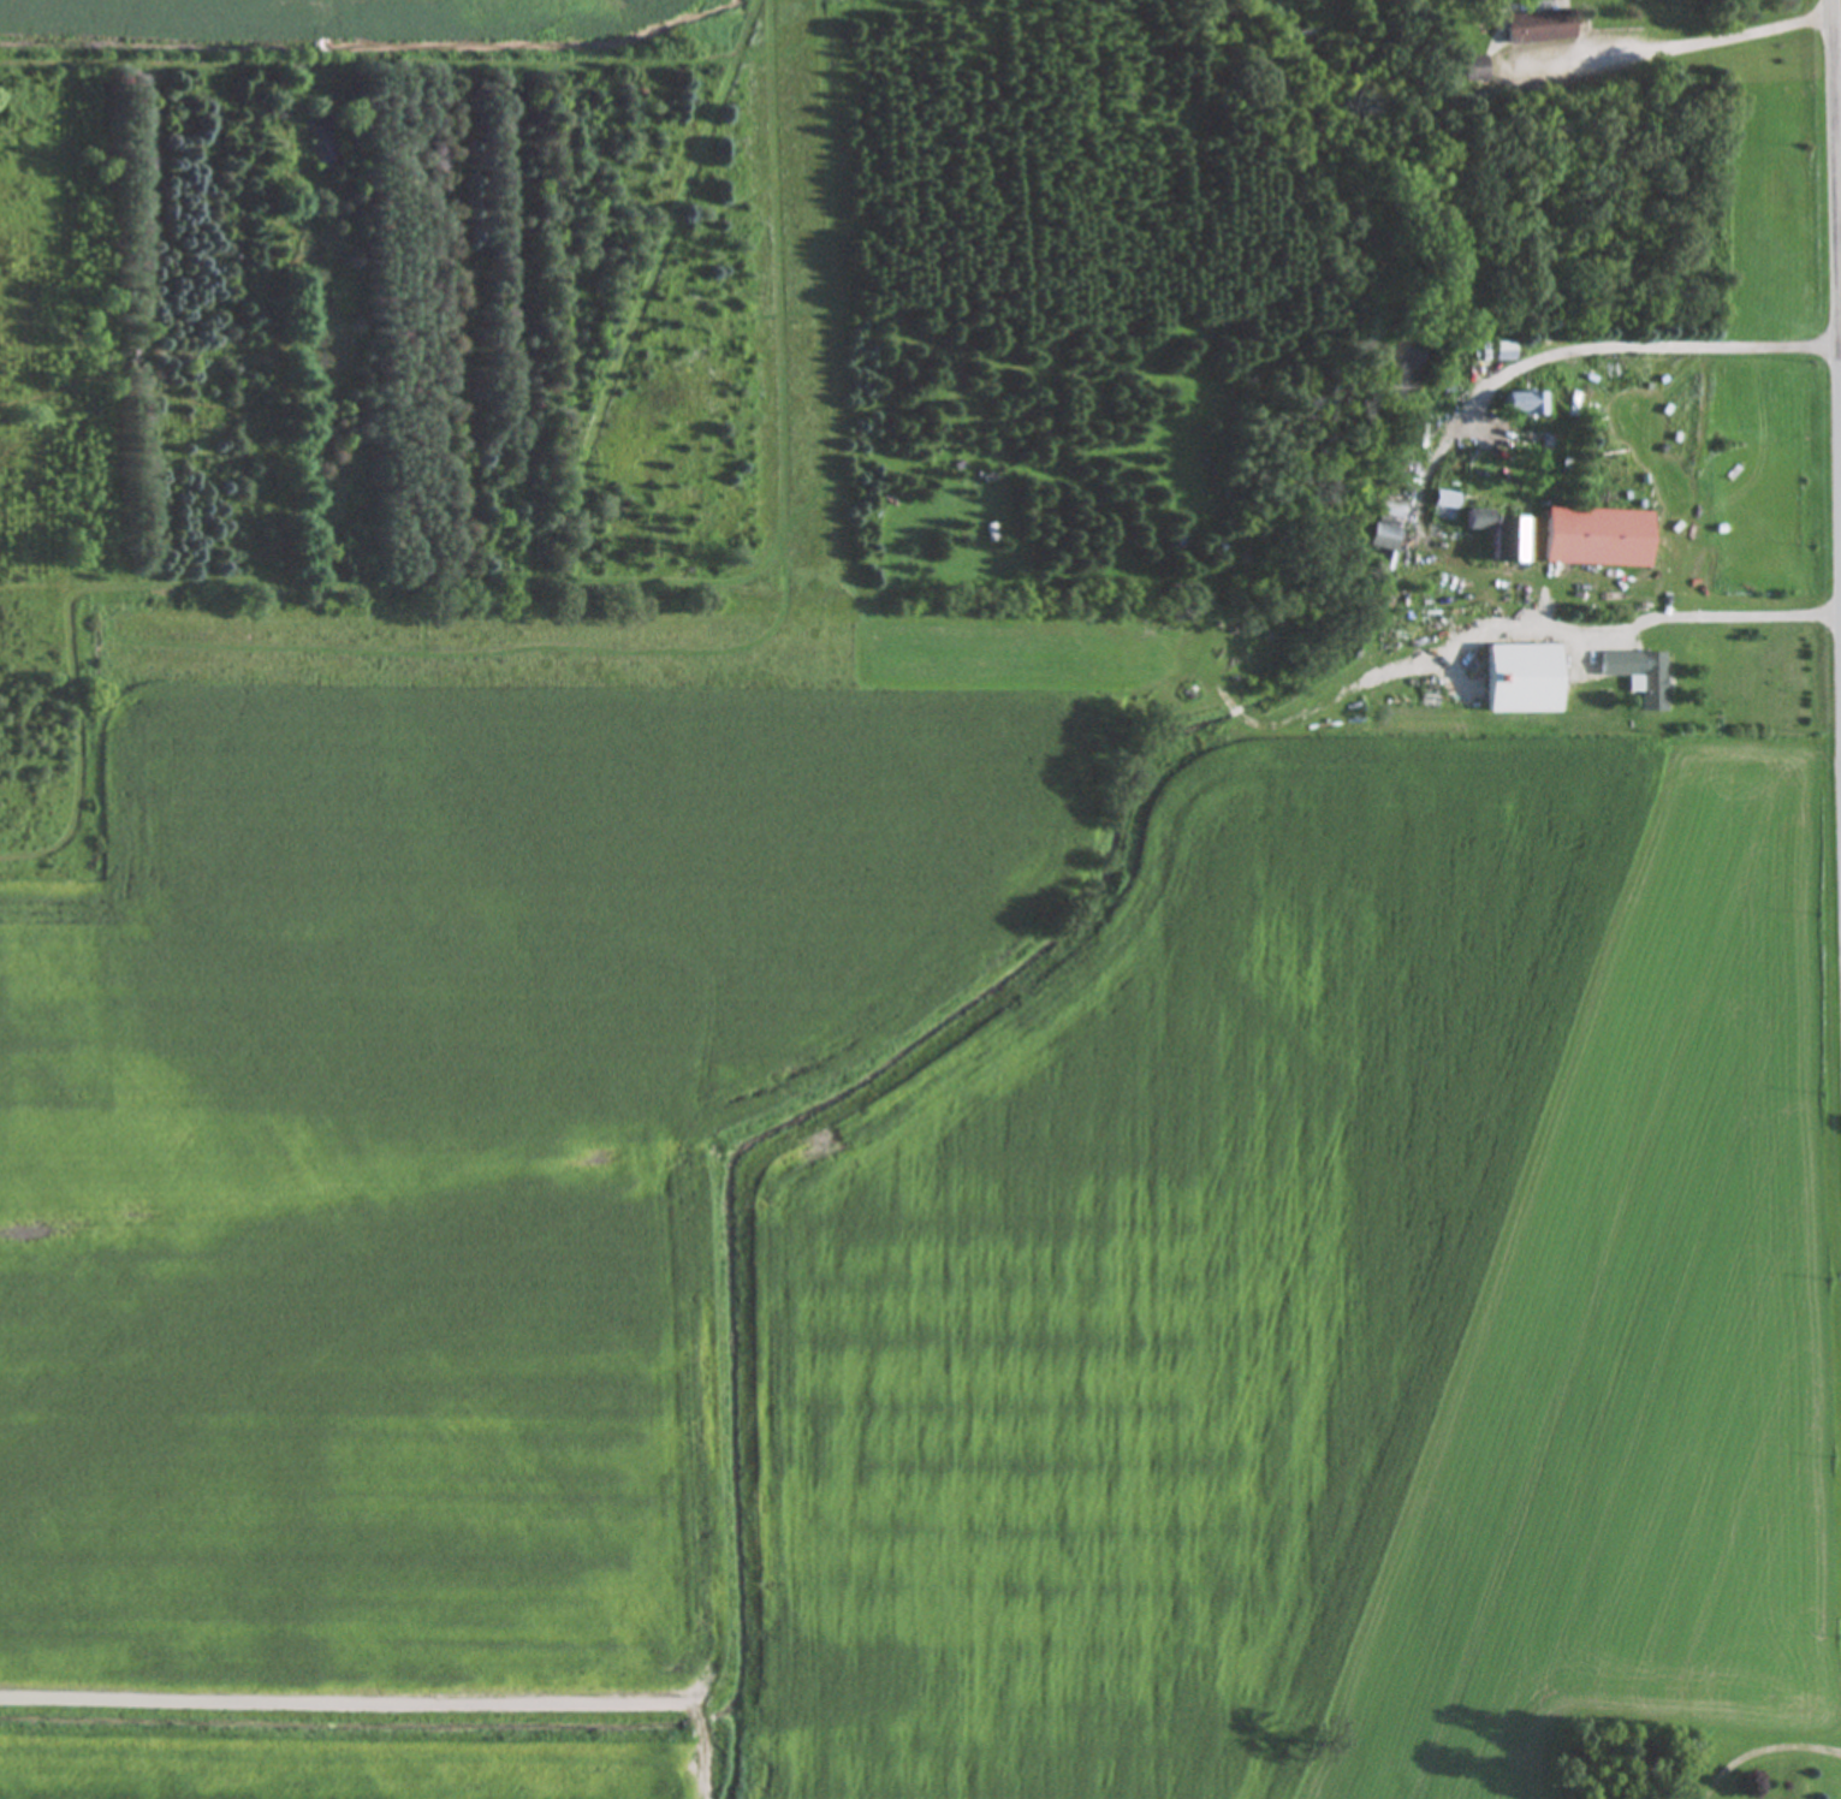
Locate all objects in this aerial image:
building: (1542, 26)
road: (1697, 40)
building: (1475, 69)
road: (1837, 147)
airport runway: (804, 296)
road: (1590, 344)
building: (1504, 351)
building: (1526, 404)
building: (1408, 462)
building: (1447, 500)
building: (1389, 530)
building: (1502, 534)
building: (1599, 539)
road: (1733, 617)
road: (1576, 672)
building: (1525, 679)
building: (1656, 683)
building: (1611, 1399)
road: (1760, 1748)

